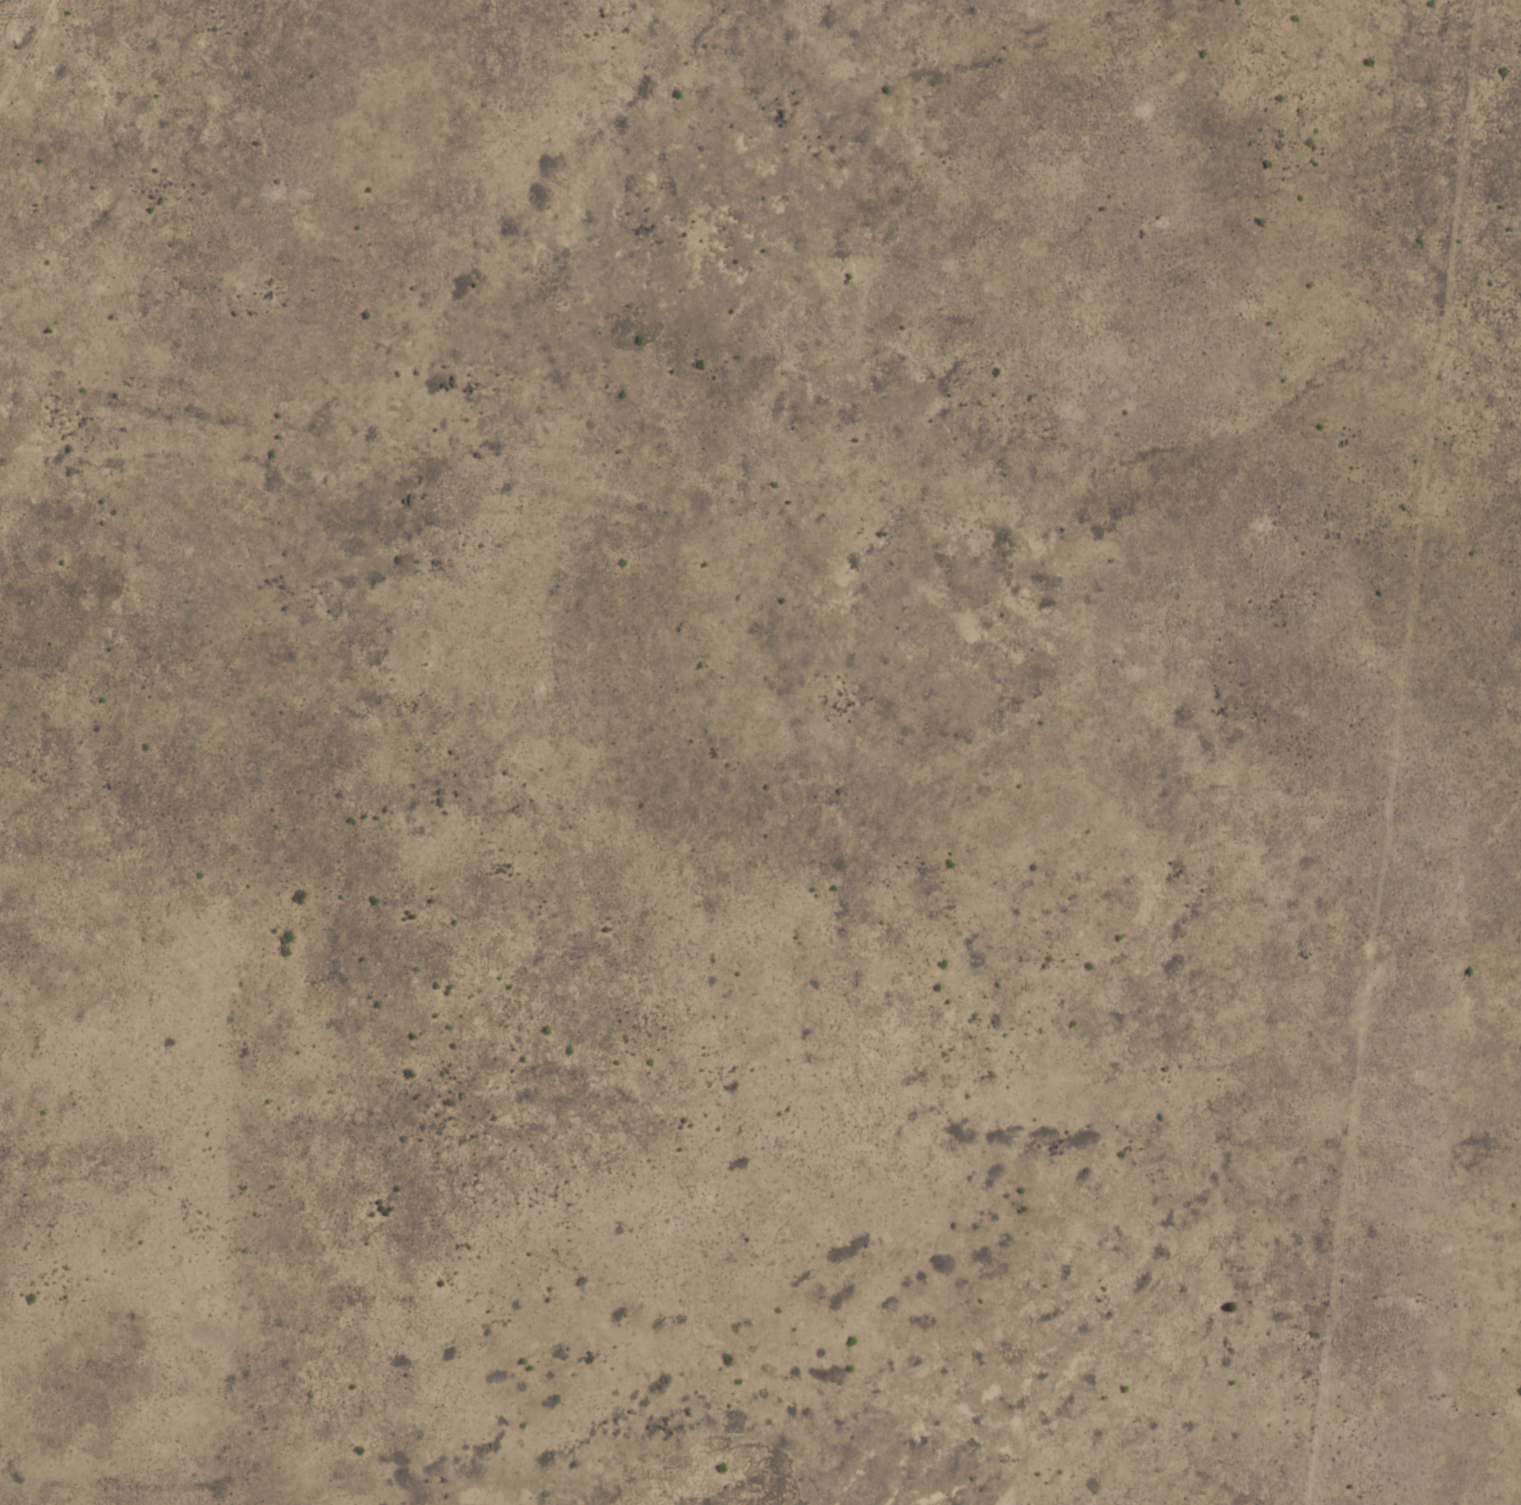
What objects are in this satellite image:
aerialway pylon: (33, 13)
road: (27, 51)
road: (1423, 485)
road: (1445, 884)
road: (1183, 1238)
road: (1341, 1238)

